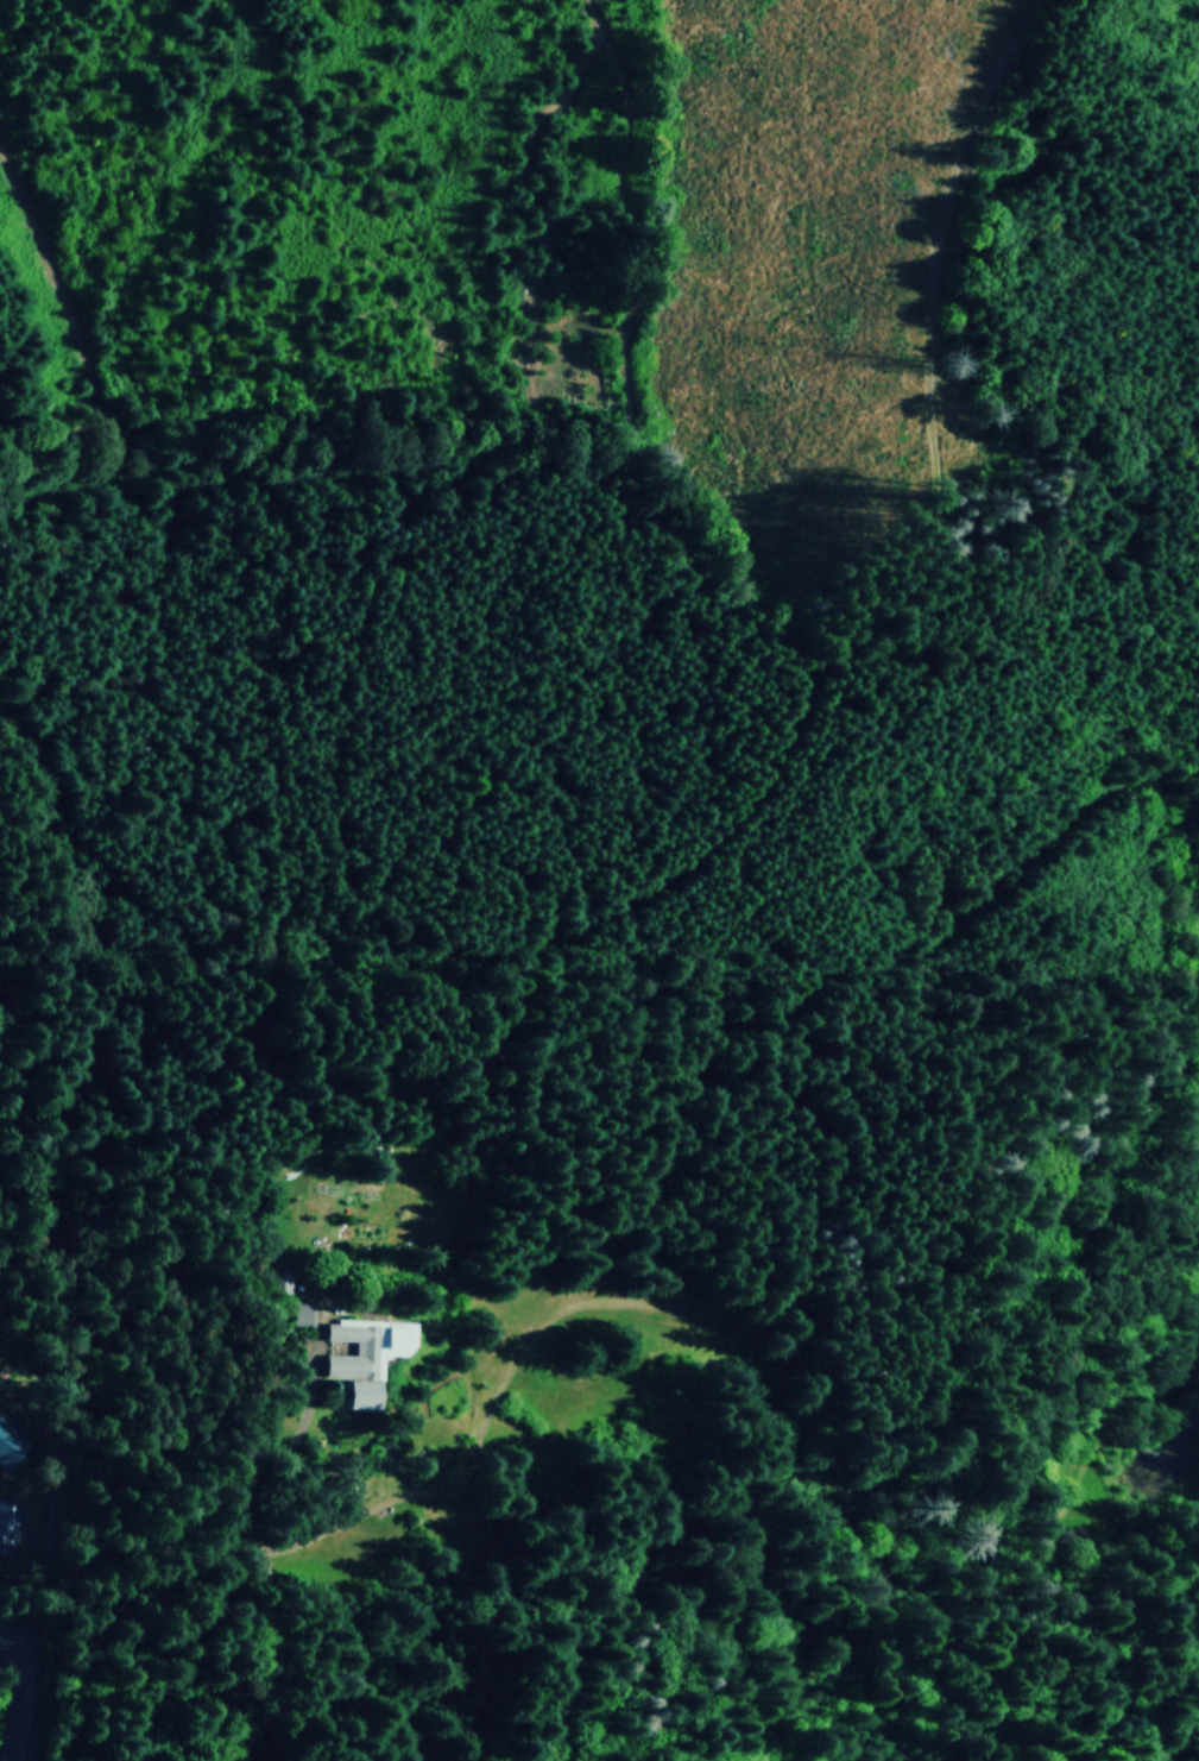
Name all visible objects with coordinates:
road: (27, 1139)
road: (246, 1252)
building: (304, 1314)
building: (364, 1356)
building: (10, 1444)
road: (50, 1509)
building: (10, 1526)
road: (739, 1539)
road: (120, 1605)
road: (783, 1639)
road: (19, 1694)

